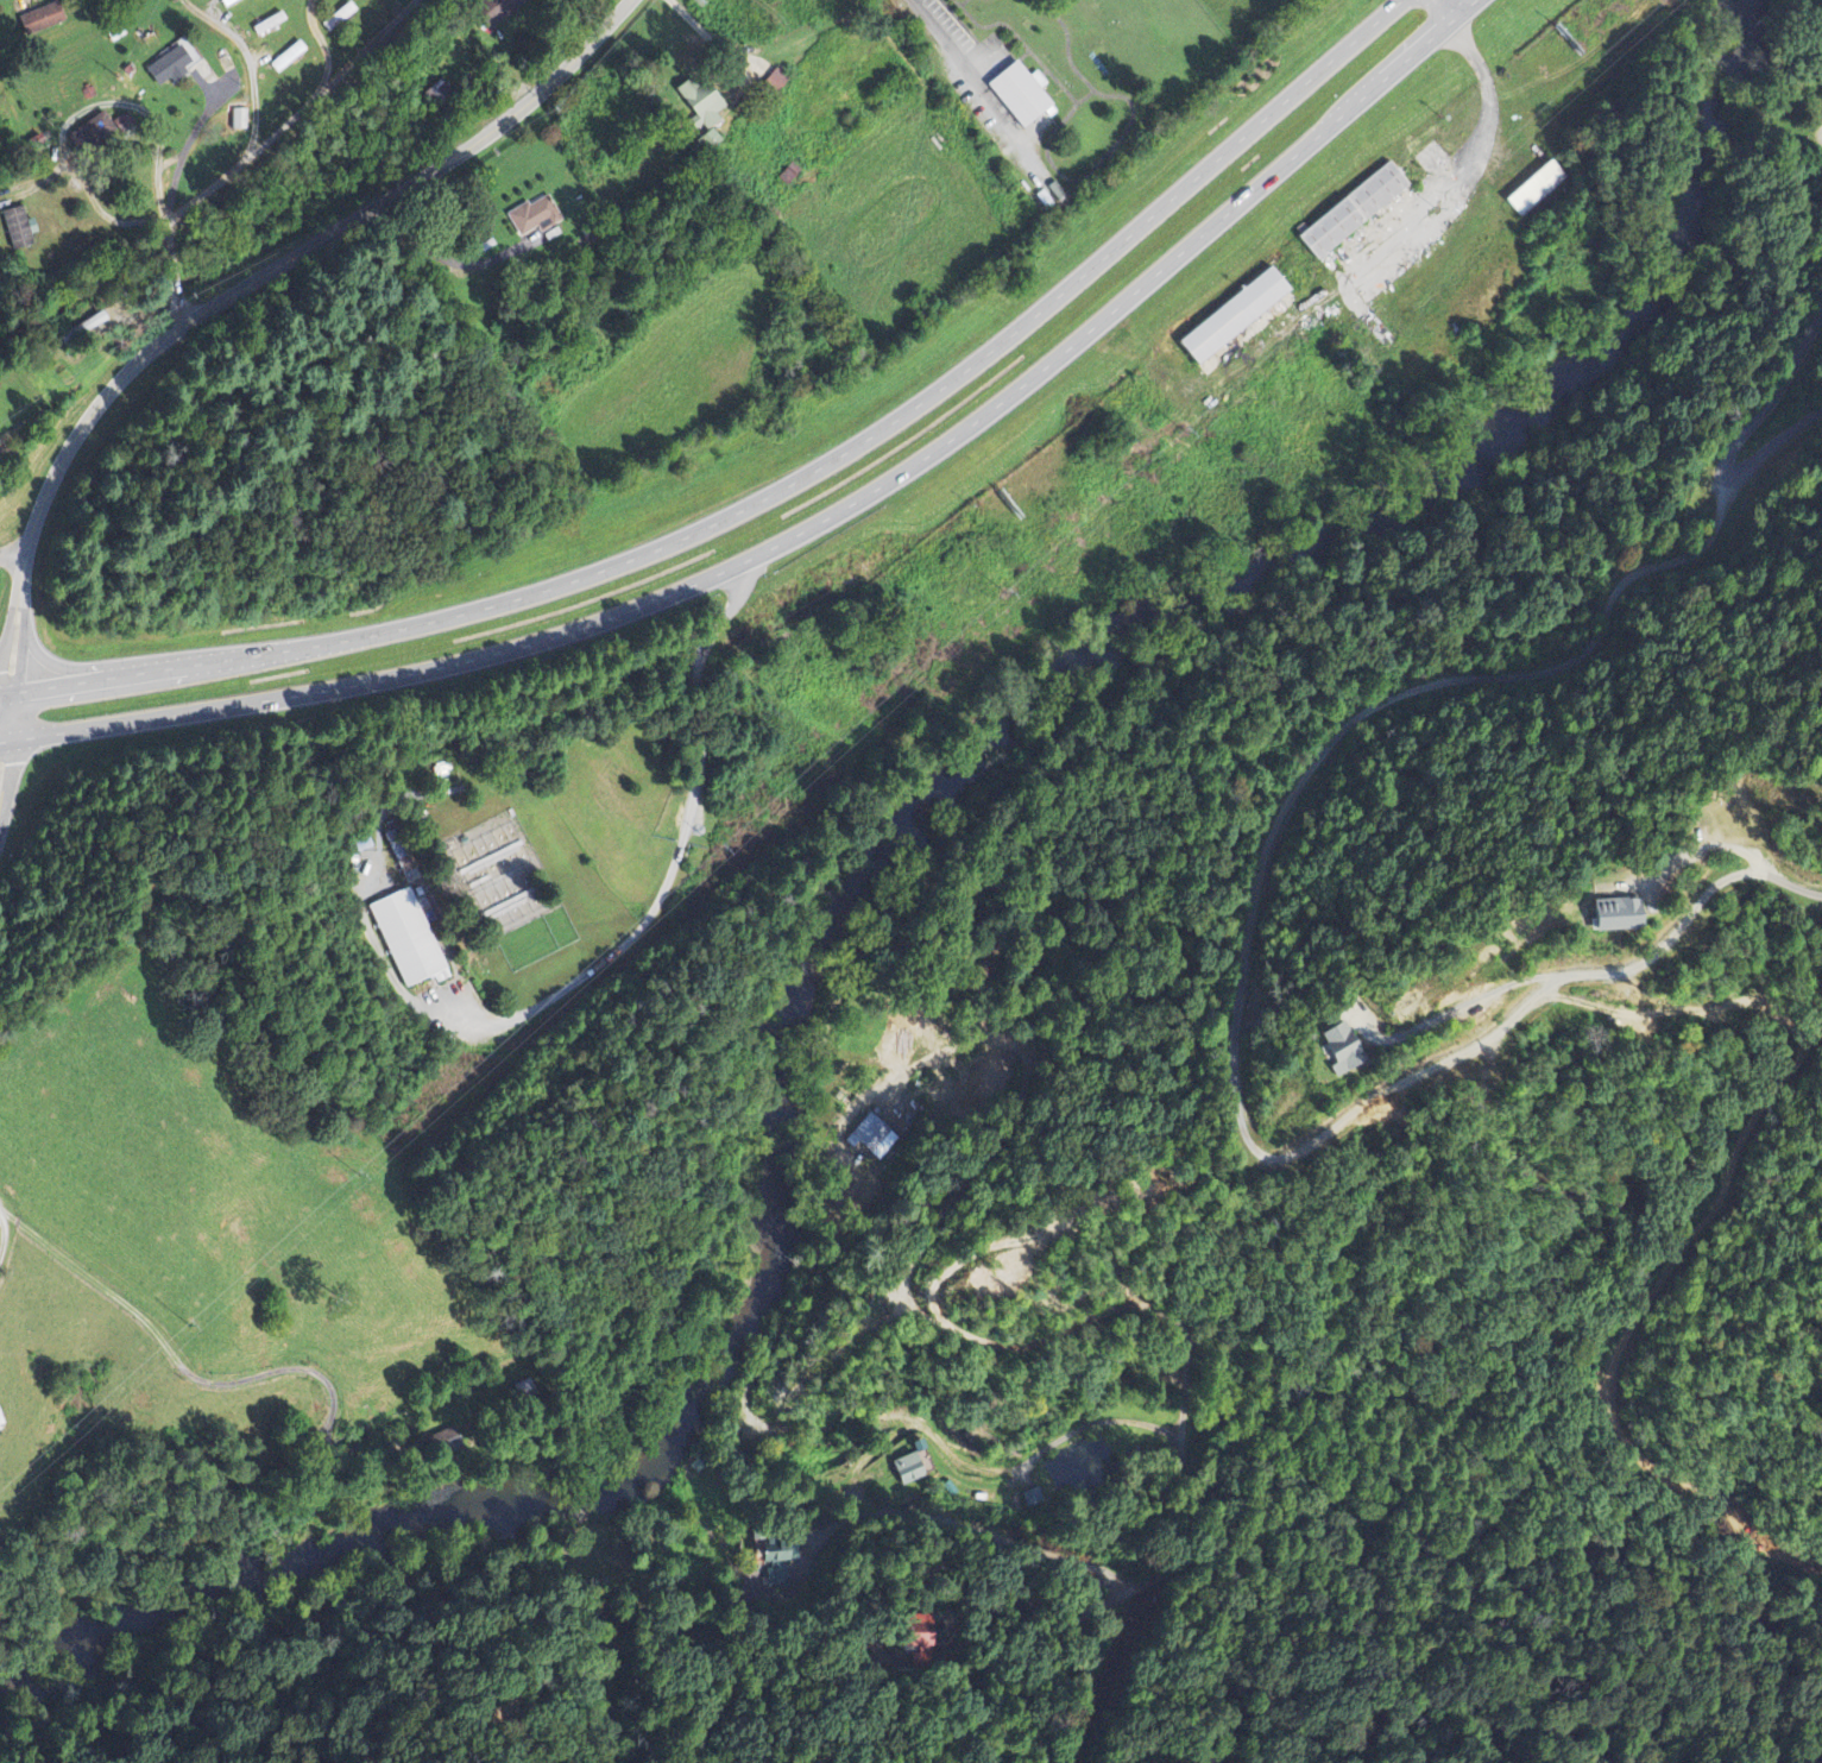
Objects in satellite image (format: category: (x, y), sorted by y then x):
building: (227, 2)
road: (1445, 8)
building: (40, 20)
building: (267, 25)
road: (322, 46)
road: (250, 58)
building: (169, 68)
building: (1020, 95)
building: (696, 106)
road: (297, 114)
building: (239, 120)
building: (100, 133)
building: (706, 143)
railway: (227, 183)
building: (1534, 189)
road: (170, 200)
power tower: (1437, 206)
building: (1353, 210)
building: (531, 215)
road: (127, 222)
building: (18, 229)
road: (217, 300)
building: (1232, 316)
power tower: (1187, 430)
road: (23, 440)
road: (771, 491)
road: (812, 523)
road: (13, 552)
power tower: (1007, 592)
road: (0, 755)
river: (865, 876)
power tower: (637, 913)
building: (1615, 915)
building: (408, 939)
building: (1339, 1049)
building: (872, 1138)
power tower: (360, 1172)
road: (0, 1238)
power tower: (191, 1326)
building: (907, 1469)

